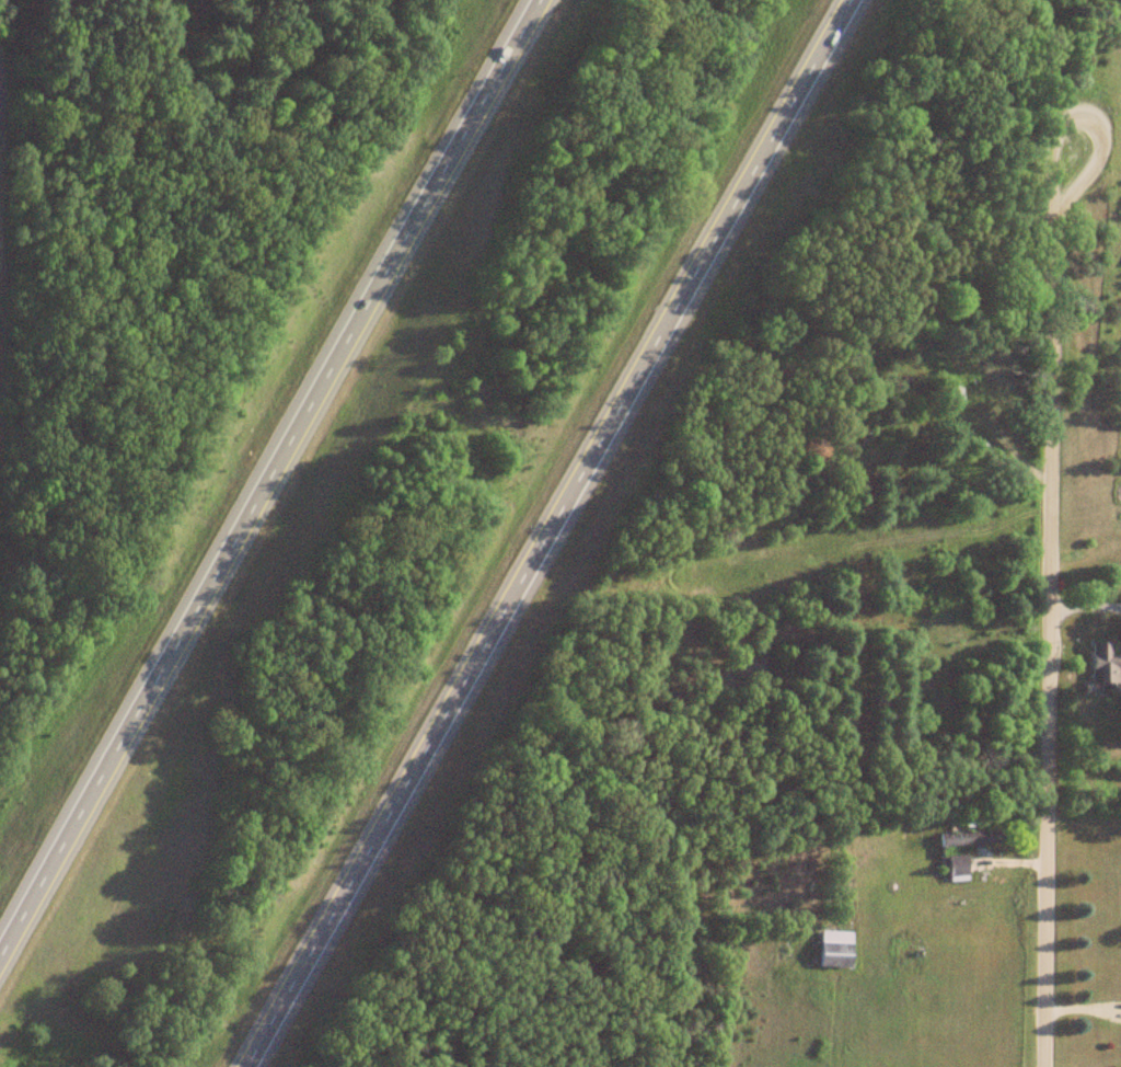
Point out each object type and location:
building: (994, 375)
road: (270, 470)
road: (541, 535)
road: (1033, 608)
road: (1077, 609)
building: (1102, 668)
building: (968, 840)
building: (956, 870)
building: (834, 950)

